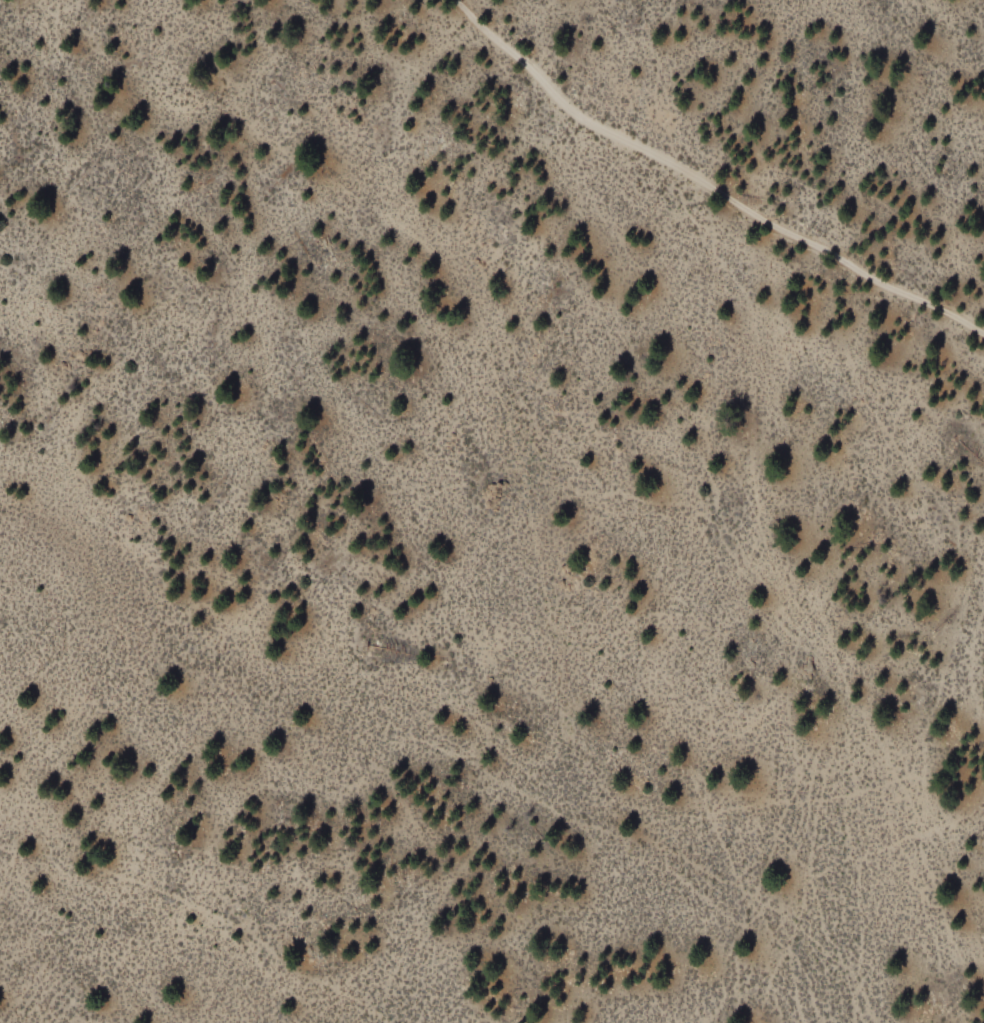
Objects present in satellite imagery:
road: (706, 185)
road: (450, 267)

